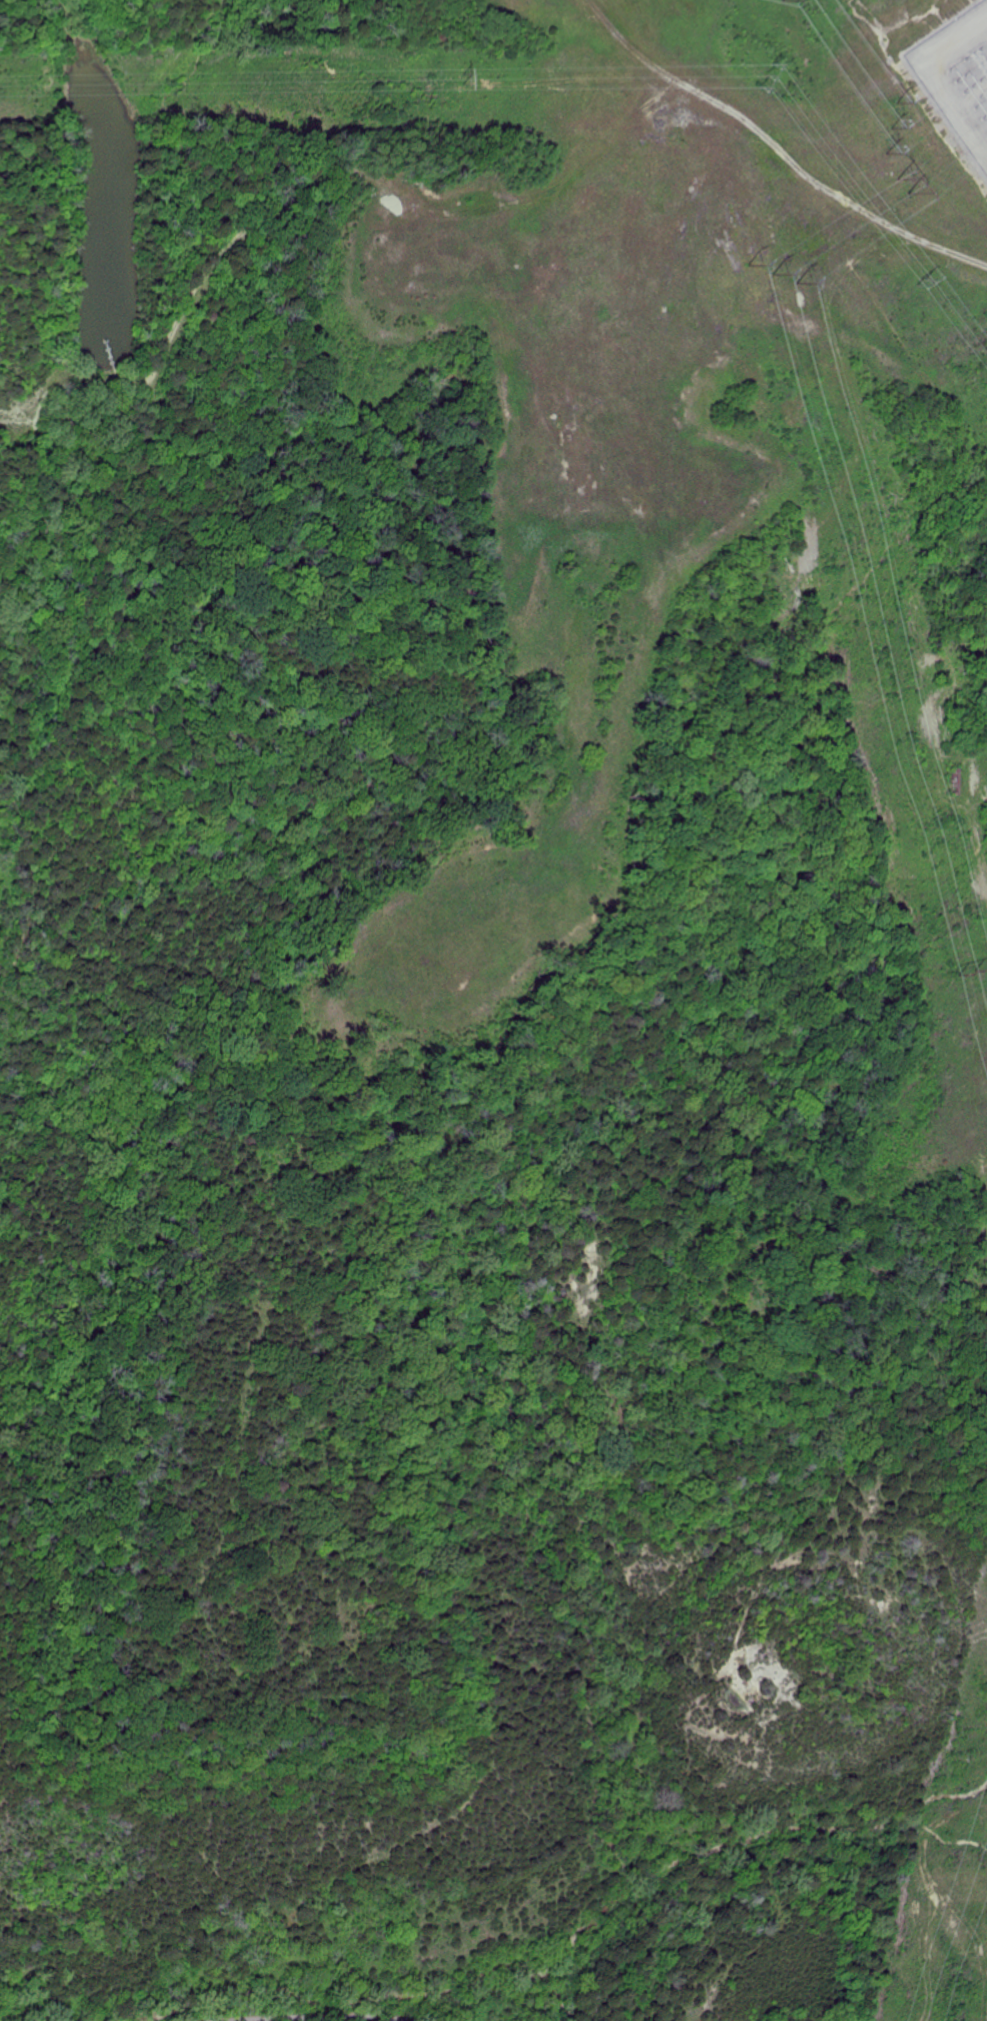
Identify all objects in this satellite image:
power tower: (766, 75)
power substation: (957, 76)
power tower: (462, 79)
power tower: (892, 126)
power tower: (900, 182)
power tower: (773, 274)
power tower: (918, 279)
power tower: (965, 969)
road: (735, 1838)
road: (337, 2015)

